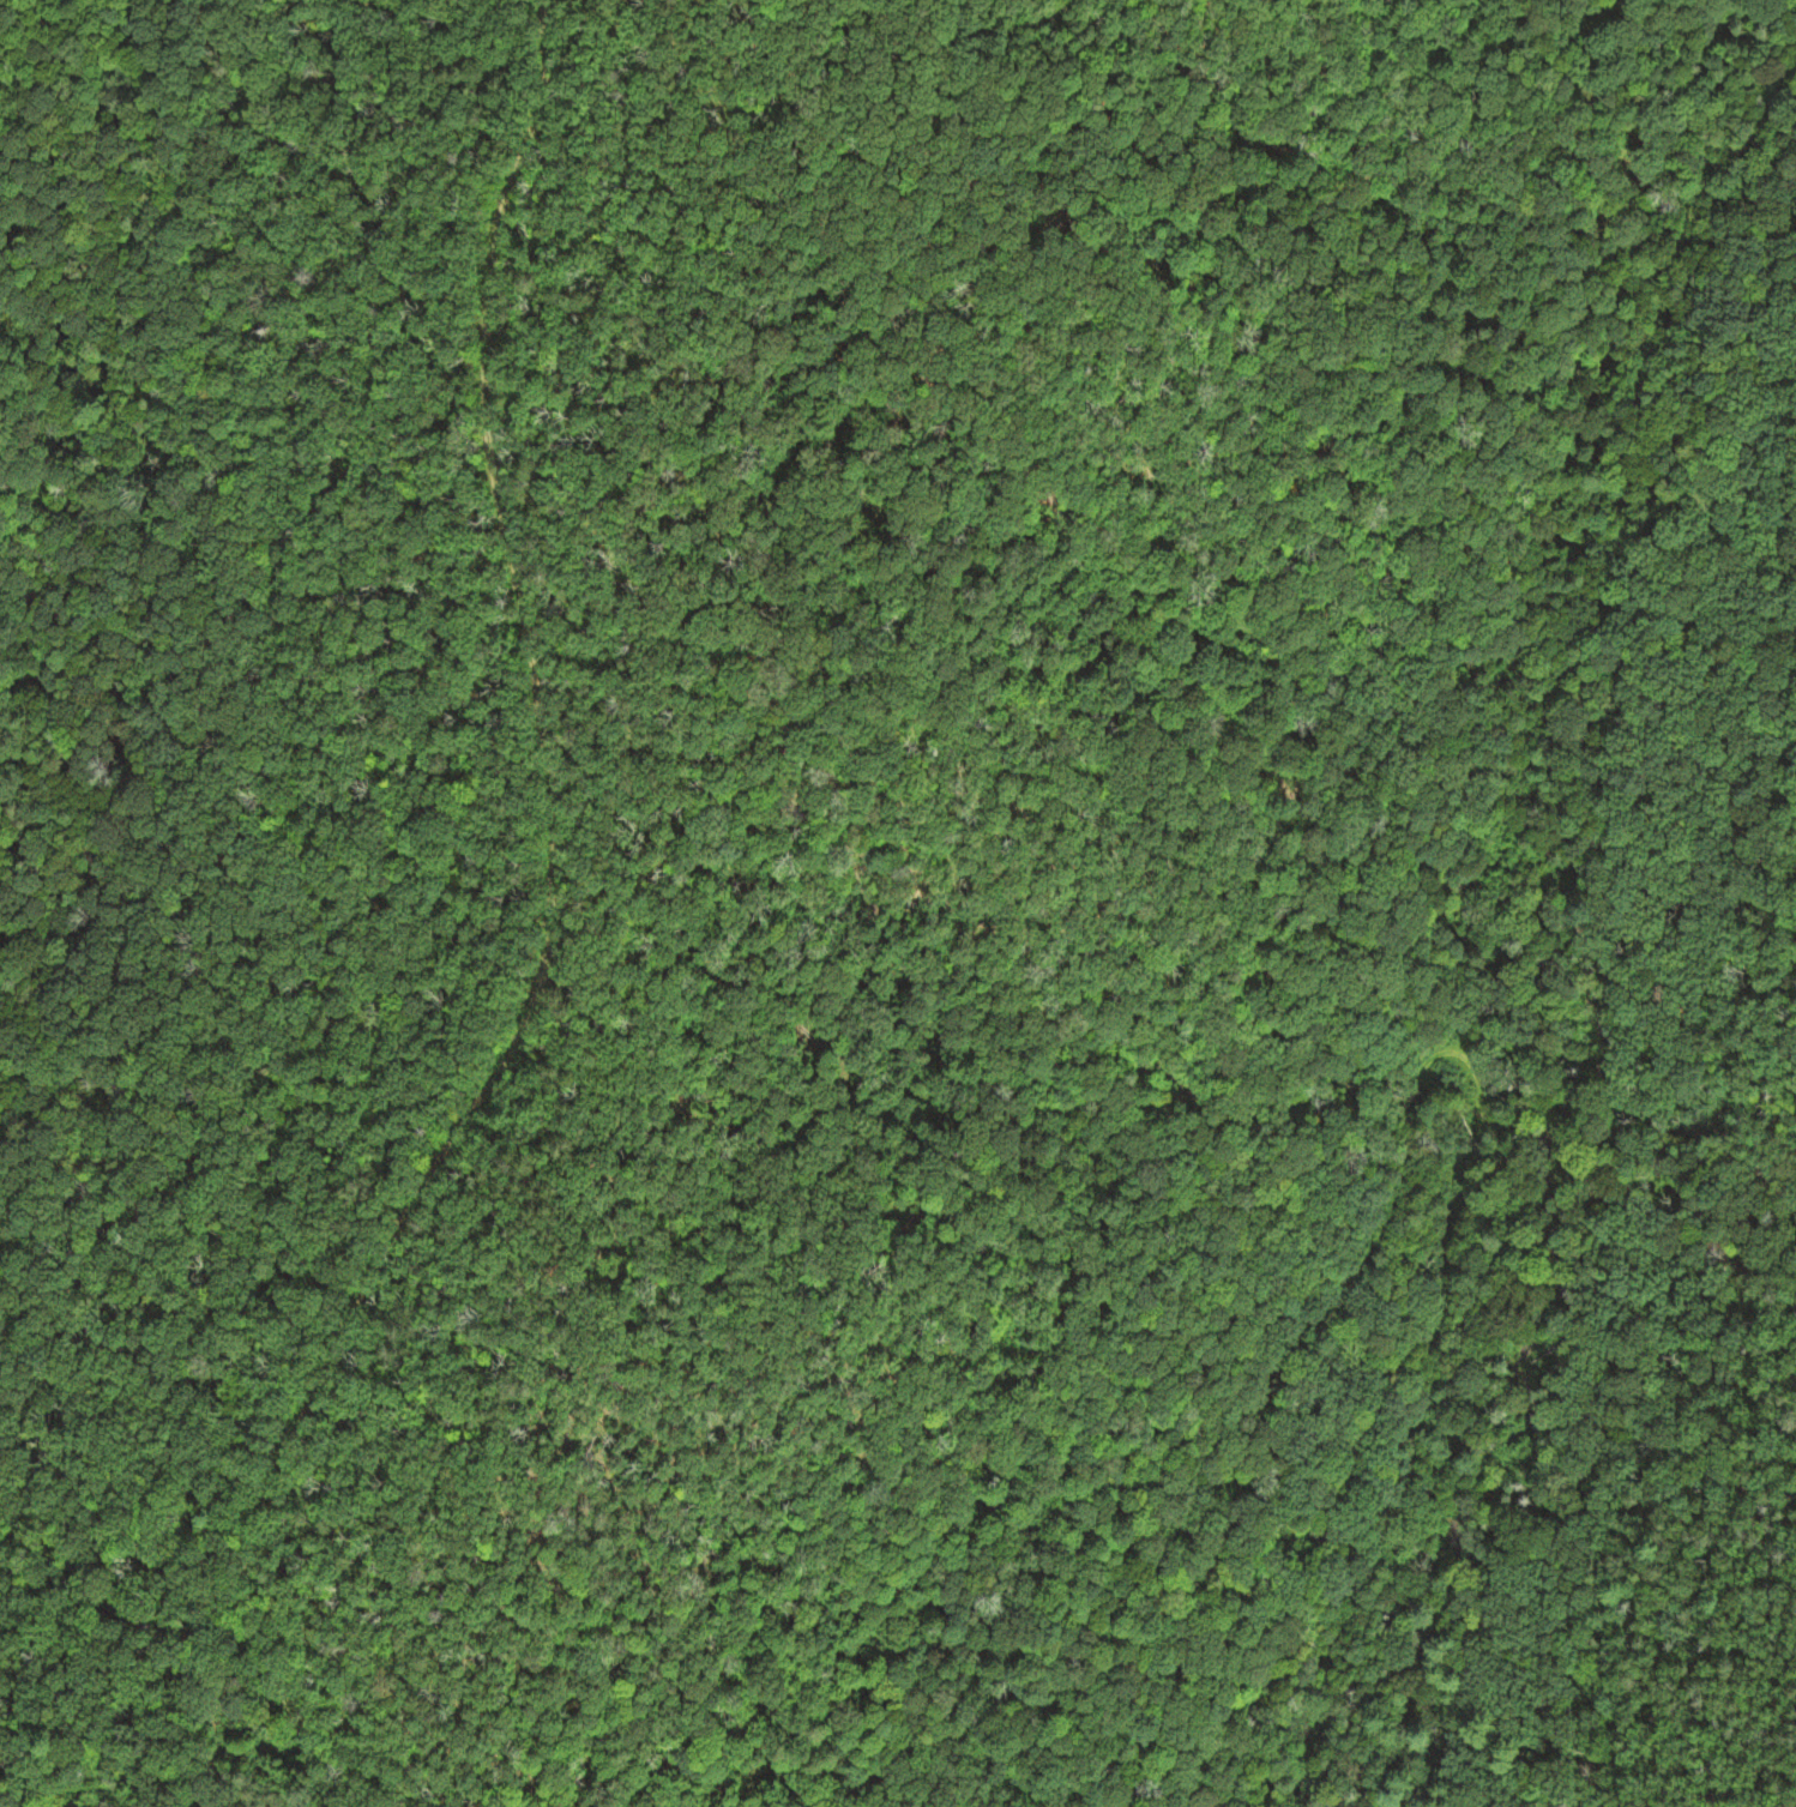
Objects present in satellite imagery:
road: (1545, 523)
road: (318, 806)
road: (552, 938)
road: (1439, 1088)

